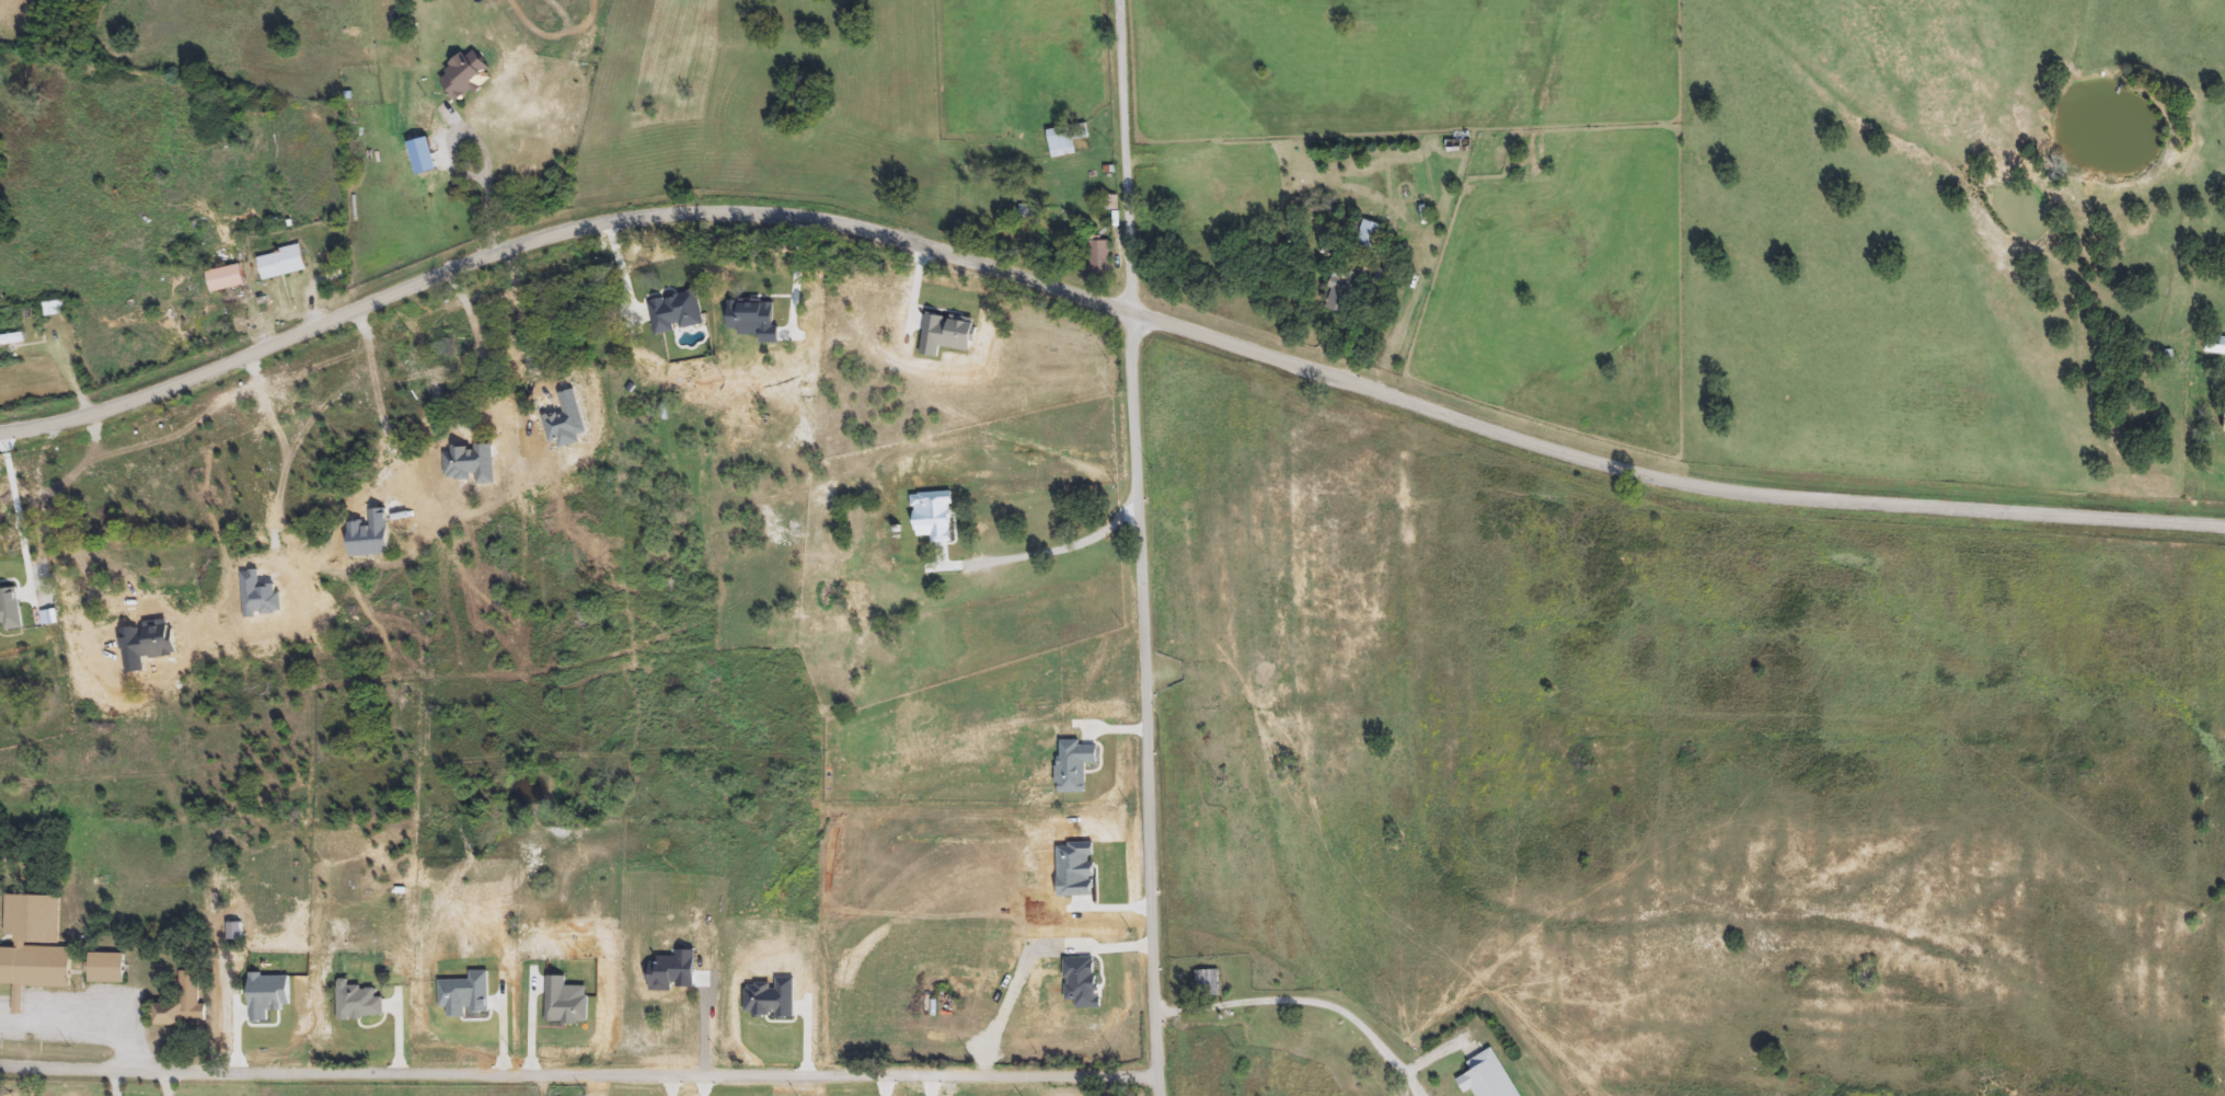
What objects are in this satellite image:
building: (1065, 140)
road: (1123, 159)
road: (428, 186)
building: (1370, 236)
building: (283, 263)
building: (1099, 263)
building: (335, 278)
building: (226, 279)
building: (1340, 291)
building: (55, 309)
road: (1103, 309)
building: (12, 341)
building: (2216, 346)
road: (15, 517)
building: (927, 538)
road: (1054, 544)
building: (838, 616)
road: (1149, 706)
building: (2, 850)
building: (37, 948)
building: (109, 969)
building: (1208, 984)
road: (1313, 997)
building: (185, 1004)
road: (79, 1029)
road: (581, 1073)
building: (1488, 1076)

